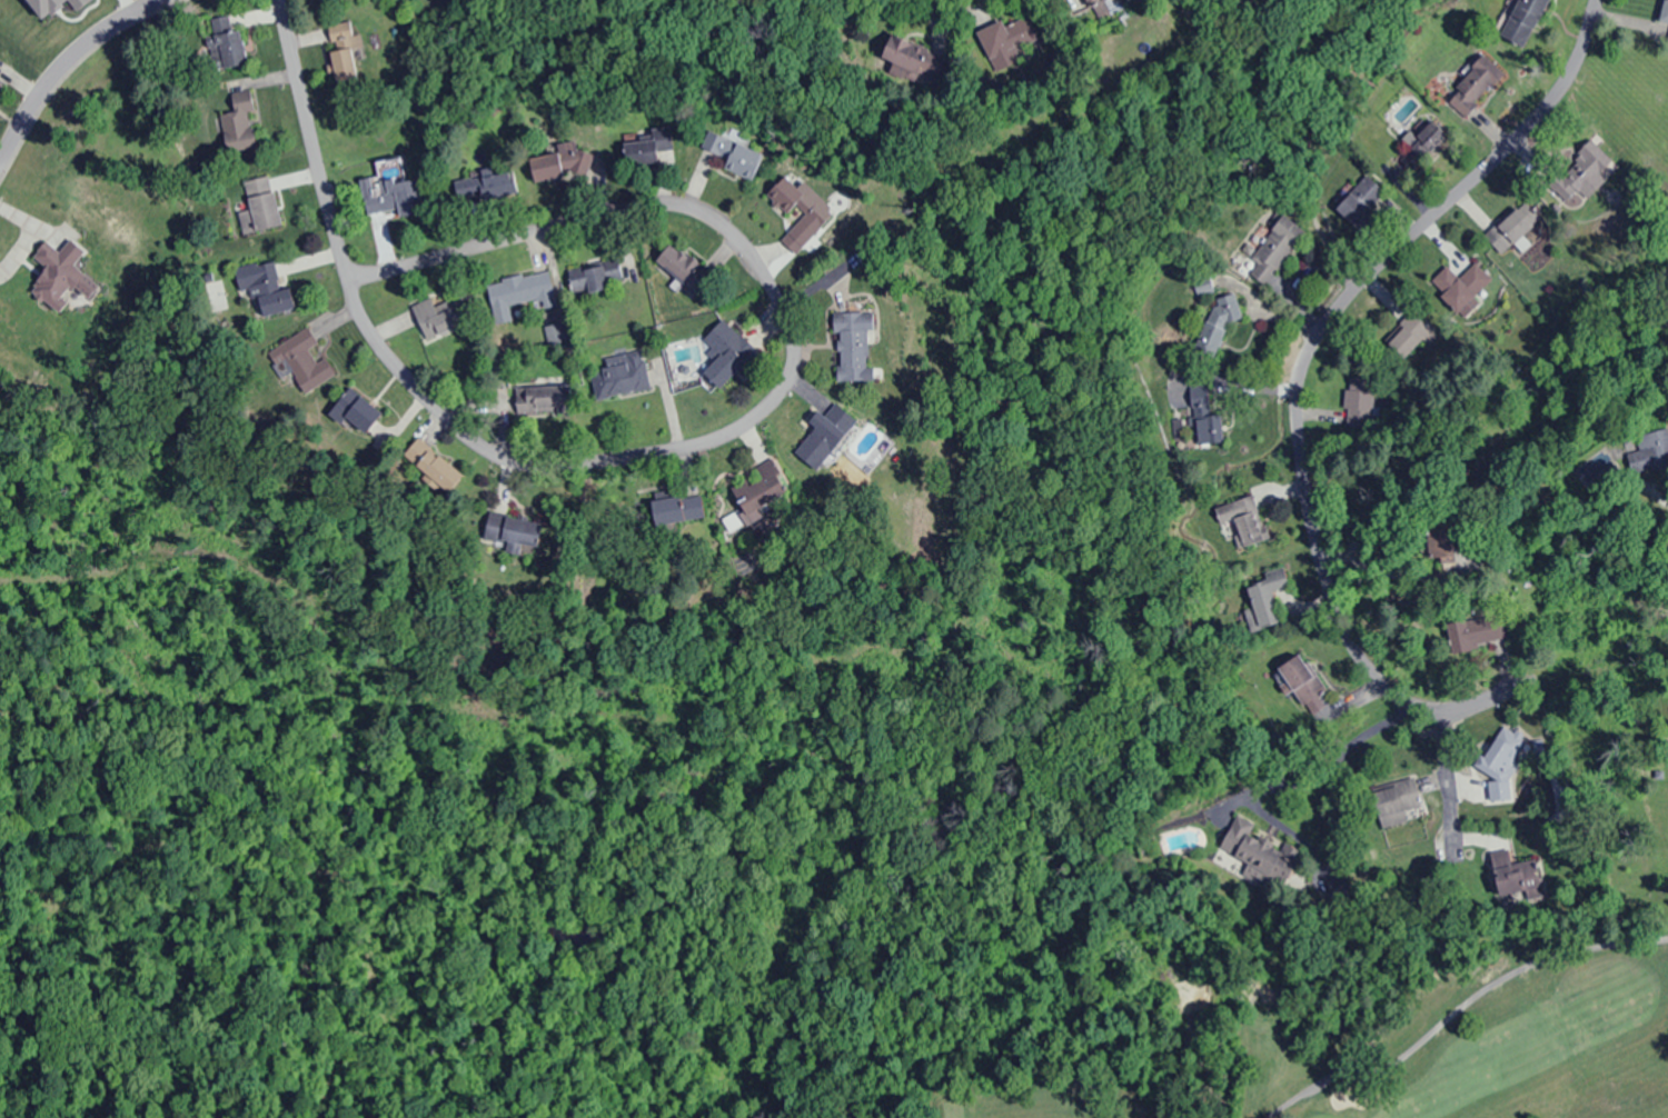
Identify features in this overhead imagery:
building: (1092, 2)
building: (1664, 17)
building: (1520, 21)
building: (1009, 39)
building: (229, 49)
building: (341, 51)
building: (911, 59)
road: (61, 67)
building: (1, 83)
building: (1470, 87)
road: (308, 139)
building: (1419, 143)
building: (646, 150)
building: (743, 161)
building: (558, 164)
building: (1577, 174)
building: (489, 188)
building: (394, 199)
building: (795, 201)
building: (261, 203)
building: (1361, 204)
building: (1508, 230)
building: (1272, 251)
building: (679, 273)
building: (60, 277)
building: (595, 279)
building: (1463, 287)
building: (266, 289)
building: (518, 295)
building: (439, 316)
building: (1208, 339)
building: (1401, 342)
building: (852, 346)
building: (726, 353)
building: (298, 361)
road: (1298, 373)
building: (618, 380)
building: (1359, 402)
building: (538, 403)
road: (765, 405)
building: (358, 413)
building: (824, 435)
building: (1654, 451)
building: (430, 467)
building: (757, 492)
building: (676, 509)
building: (1241, 522)
building: (514, 531)
building: (1441, 543)
building: (1267, 581)
building: (1476, 633)
building: (1300, 679)
building: (1496, 758)
building: (1393, 802)
building: (1248, 845)
building: (1518, 879)
park: (1318, 1039)

